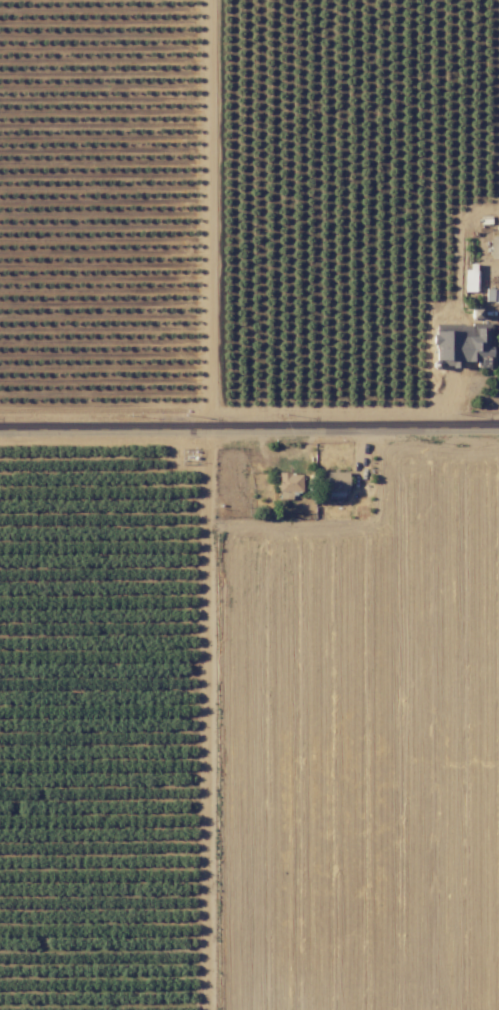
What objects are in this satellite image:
road: (486, 208)
building: (494, 247)
building: (469, 280)
building: (492, 295)
building: (461, 345)
road: (249, 431)
building: (336, 480)
building: (288, 484)
crop: (357, 725)

